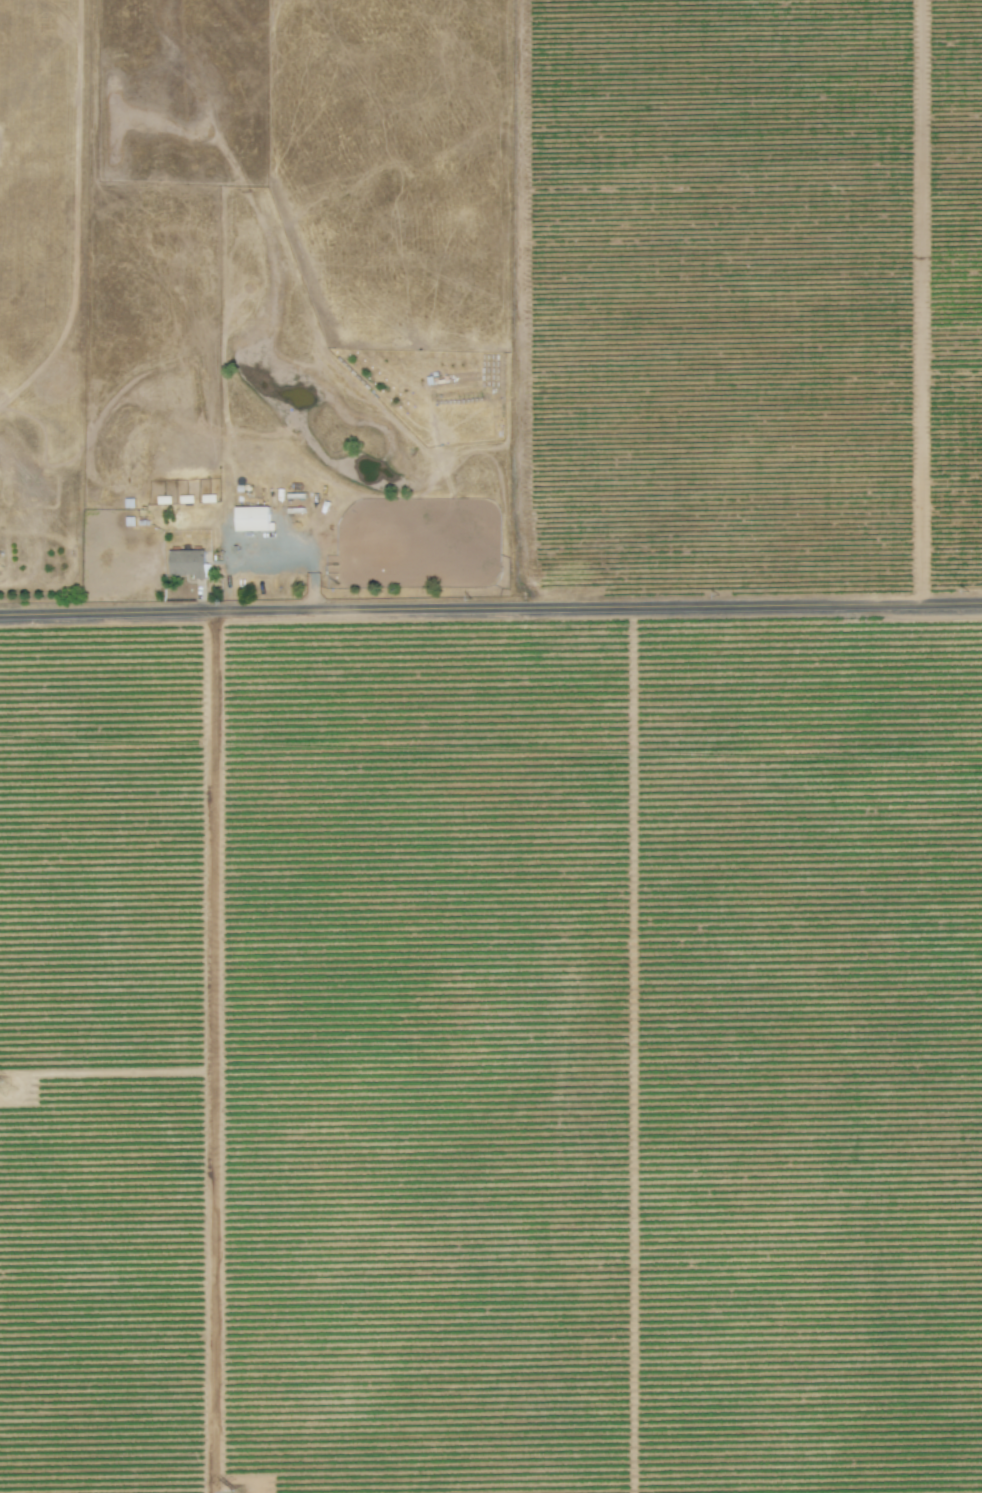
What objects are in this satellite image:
building: (254, 518)
road: (304, 553)
building: (189, 563)
road: (490, 604)
road: (210, 1050)
power tower: (13, 1089)

